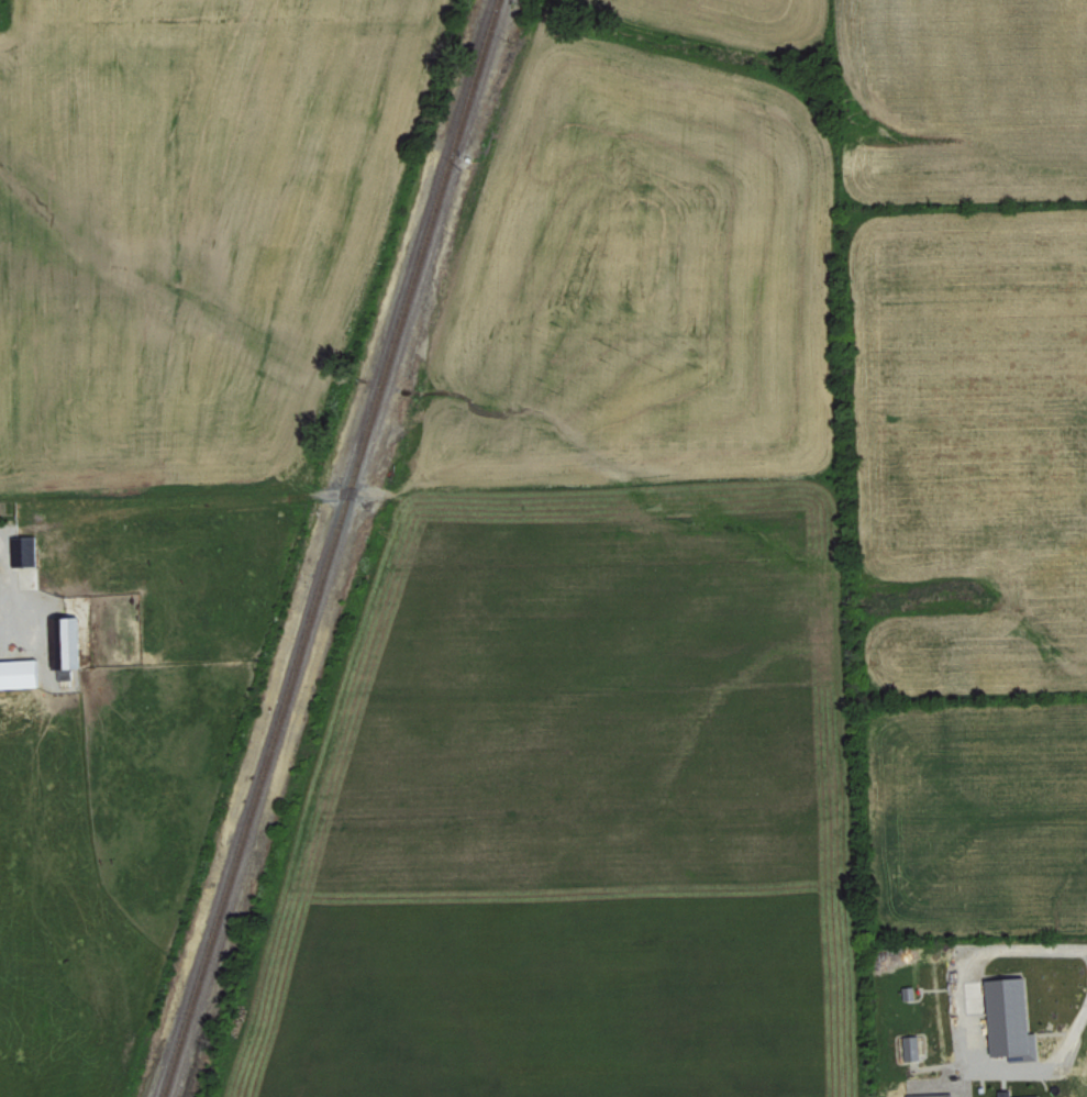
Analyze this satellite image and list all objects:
railway: (326, 548)
building: (25, 550)
road: (5, 589)
building: (69, 641)
building: (21, 673)
building: (911, 991)
building: (1013, 1017)
building: (913, 1046)
building: (1007, 1092)

